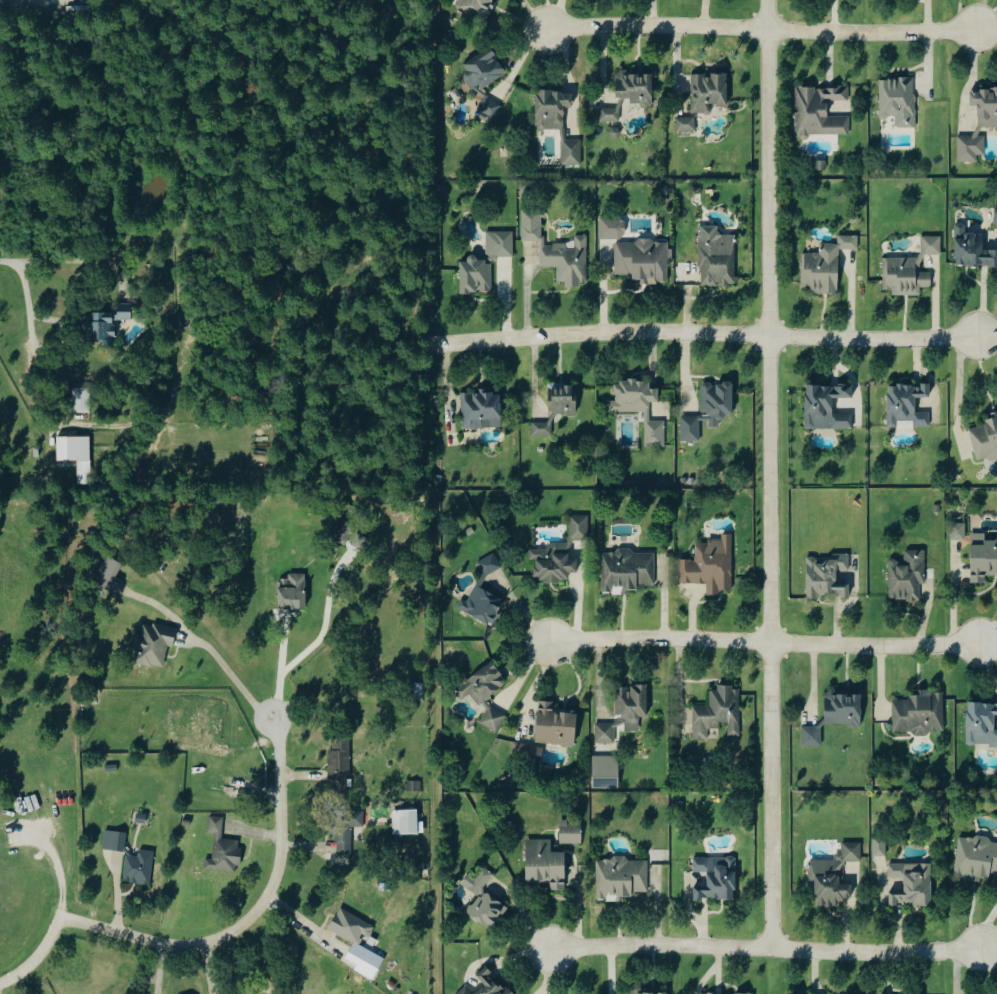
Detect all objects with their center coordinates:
building: (477, 7)
road: (980, 14)
road: (534, 17)
road: (763, 30)
building: (484, 71)
building: (636, 88)
building: (709, 93)
building: (899, 102)
building: (490, 107)
building: (552, 110)
building: (821, 112)
building: (610, 115)
building: (686, 124)
building: (572, 152)
building: (996, 216)
building: (612, 227)
building: (500, 244)
building: (972, 248)
building: (559, 251)
building: (717, 256)
building: (643, 260)
road: (75, 261)
building: (826, 265)
building: (911, 269)
building: (476, 275)
road: (28, 304)
building: (109, 320)
road: (701, 333)
road: (959, 391)
building: (82, 399)
building: (908, 404)
building: (827, 406)
building: (558, 407)
building: (640, 407)
building: (482, 409)
building: (709, 409)
building: (985, 439)
building: (76, 452)
road: (769, 473)
building: (340, 528)
building: (959, 531)
building: (360, 540)
building: (560, 553)
building: (983, 556)
building: (711, 565)
building: (627, 570)
building: (108, 573)
building: (908, 574)
building: (828, 576)
building: (293, 591)
building: (484, 594)
road: (765, 641)
building: (153, 644)
road: (238, 680)
road: (680, 683)
building: (483, 684)
building: (844, 709)
building: (625, 712)
building: (719, 712)
building: (920, 713)
building: (493, 718)
building: (555, 725)
building: (812, 735)
building: (528, 751)
building: (340, 763)
building: (606, 771)
building: (406, 822)
building: (346, 829)
building: (571, 832)
building: (115, 841)
building: (880, 846)
building: (223, 849)
building: (976, 858)
building: (546, 864)
building: (139, 867)
building: (834, 876)
building: (621, 878)
building: (716, 878)
building: (913, 884)
building: (484, 899)
road: (252, 913)
road: (661, 944)
road: (874, 951)
road: (37, 955)
building: (369, 964)
road: (160, 968)
road: (208, 968)
building: (488, 985)
building: (744, 993)

